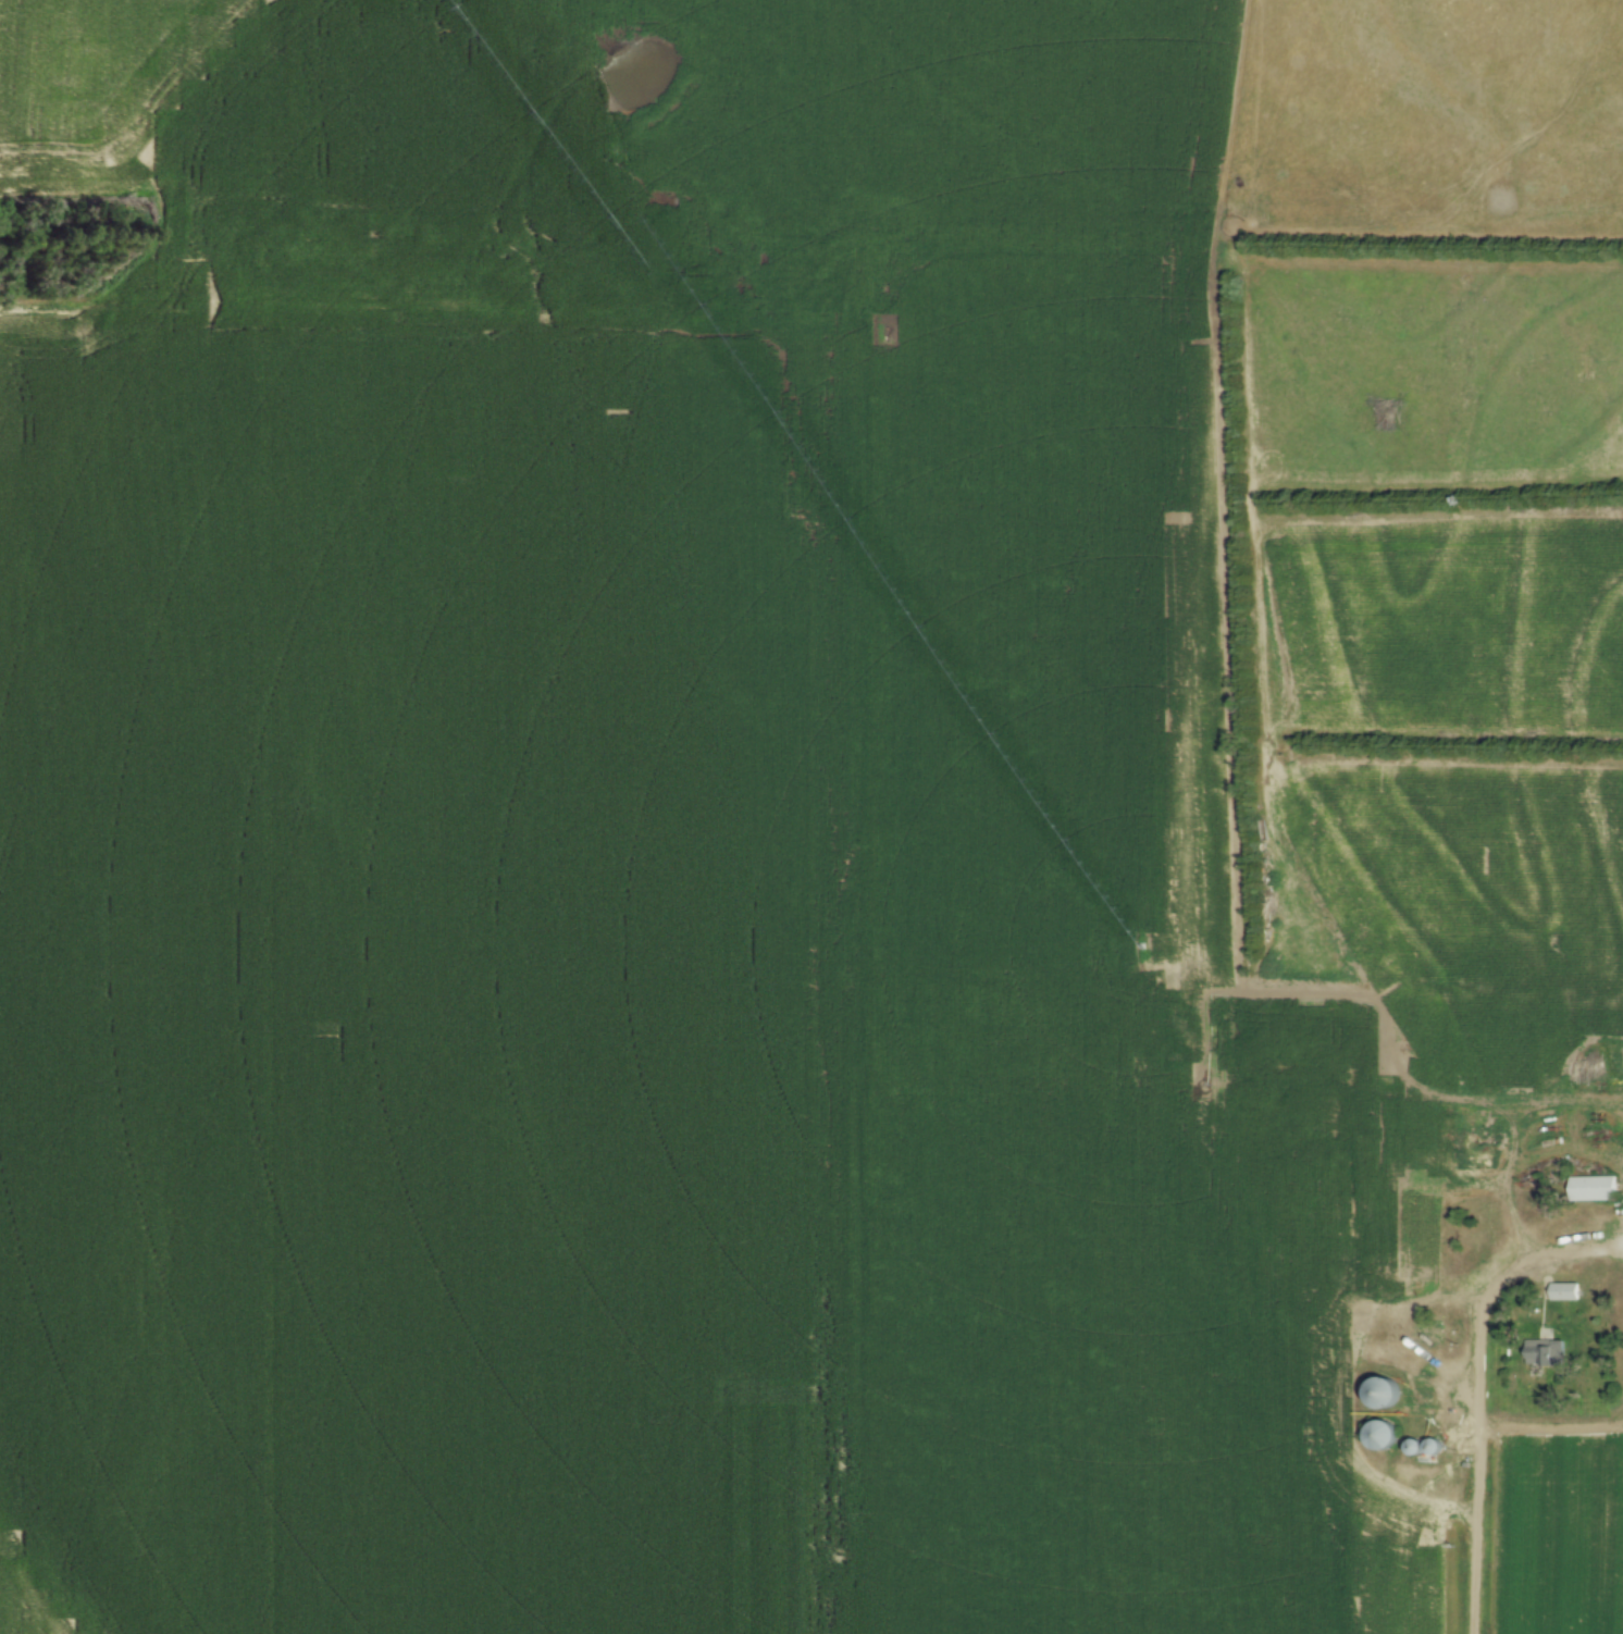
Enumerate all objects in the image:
building: (1594, 1191)
building: (1564, 1293)
building: (1545, 1354)
building: (1382, 1395)
building: (1422, 1414)
road: (1476, 1426)
building: (1380, 1438)
building: (1430, 1450)

